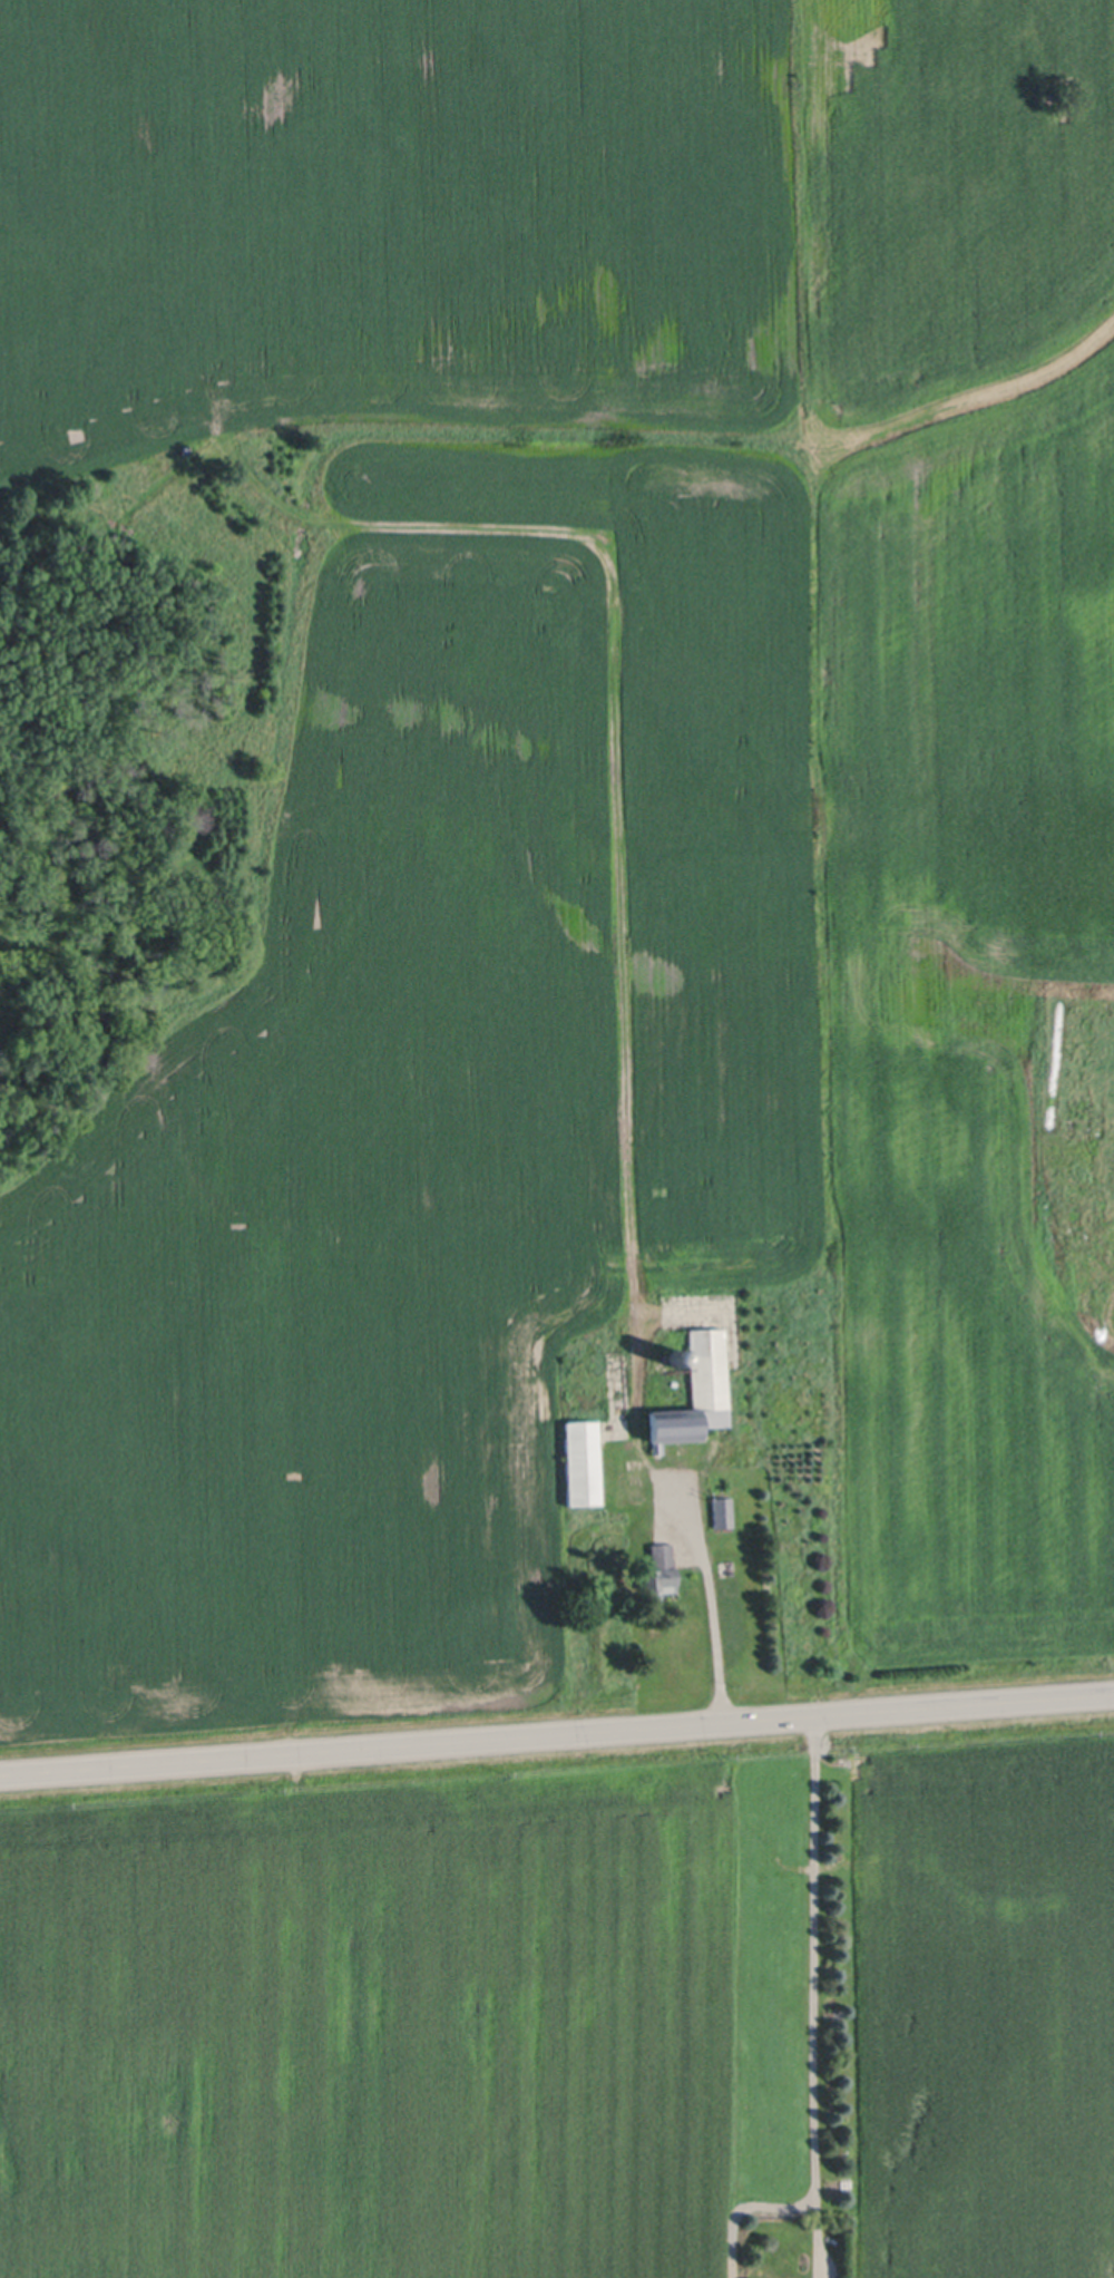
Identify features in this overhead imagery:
crop: (543, 819)
building: (664, 1357)
building: (692, 1392)
building: (578, 1463)
building: (722, 1512)
building: (656, 1567)
road: (712, 1609)
road: (556, 1733)
crop: (977, 1994)
road: (817, 1996)
crop: (402, 2013)

